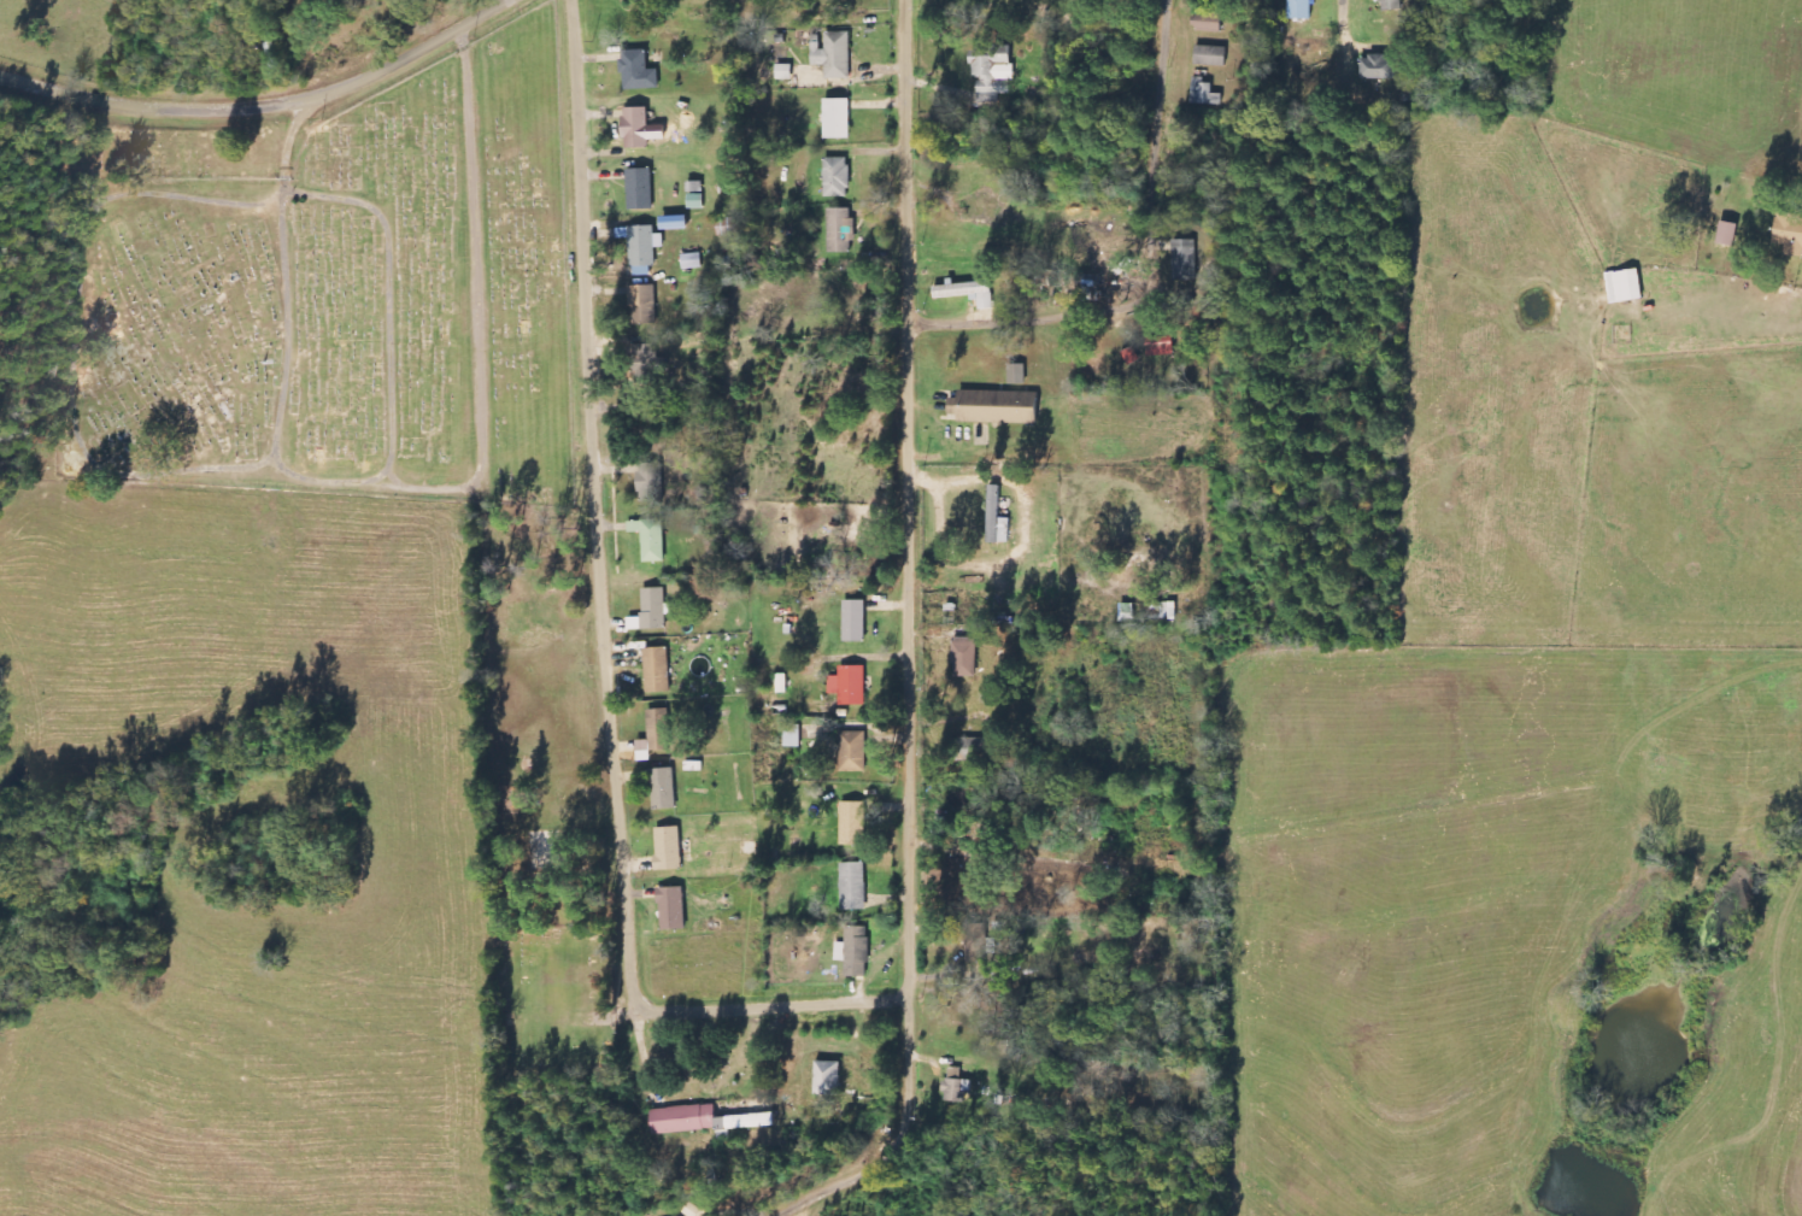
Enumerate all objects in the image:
building: (1392, 5)
building: (1299, 10)
building: (1209, 23)
road: (1349, 31)
building: (780, 55)
building: (833, 55)
building: (1210, 57)
building: (1378, 67)
building: (638, 71)
building: (994, 71)
building: (1204, 94)
road: (264, 104)
building: (837, 119)
building: (635, 128)
road: (906, 161)
building: (837, 177)
building: (640, 189)
building: (674, 223)
building: (840, 230)
building: (1728, 234)
building: (1789, 235)
building: (644, 249)
building: (1182, 260)
building: (692, 262)
road: (1161, 272)
building: (1625, 287)
building: (961, 290)
park: (333, 293)
road: (388, 302)
building: (642, 305)
road: (75, 333)
building: (646, 363)
building: (996, 407)
road: (393, 476)
building: (648, 483)
road: (413, 489)
building: (997, 519)
building: (651, 540)
building: (651, 611)
building: (1127, 611)
building: (1161, 612)
building: (855, 622)
road: (606, 638)
building: (965, 653)
road: (909, 659)
building: (657, 671)
building: (782, 685)
building: (850, 686)
building: (656, 735)
building: (792, 736)
building: (967, 750)
building: (852, 752)
building: (663, 789)
building: (852, 824)
building: (668, 850)
building: (853, 887)
building: (673, 910)
building: (855, 952)
building: (828, 1079)
building: (956, 1087)
road: (900, 1136)

